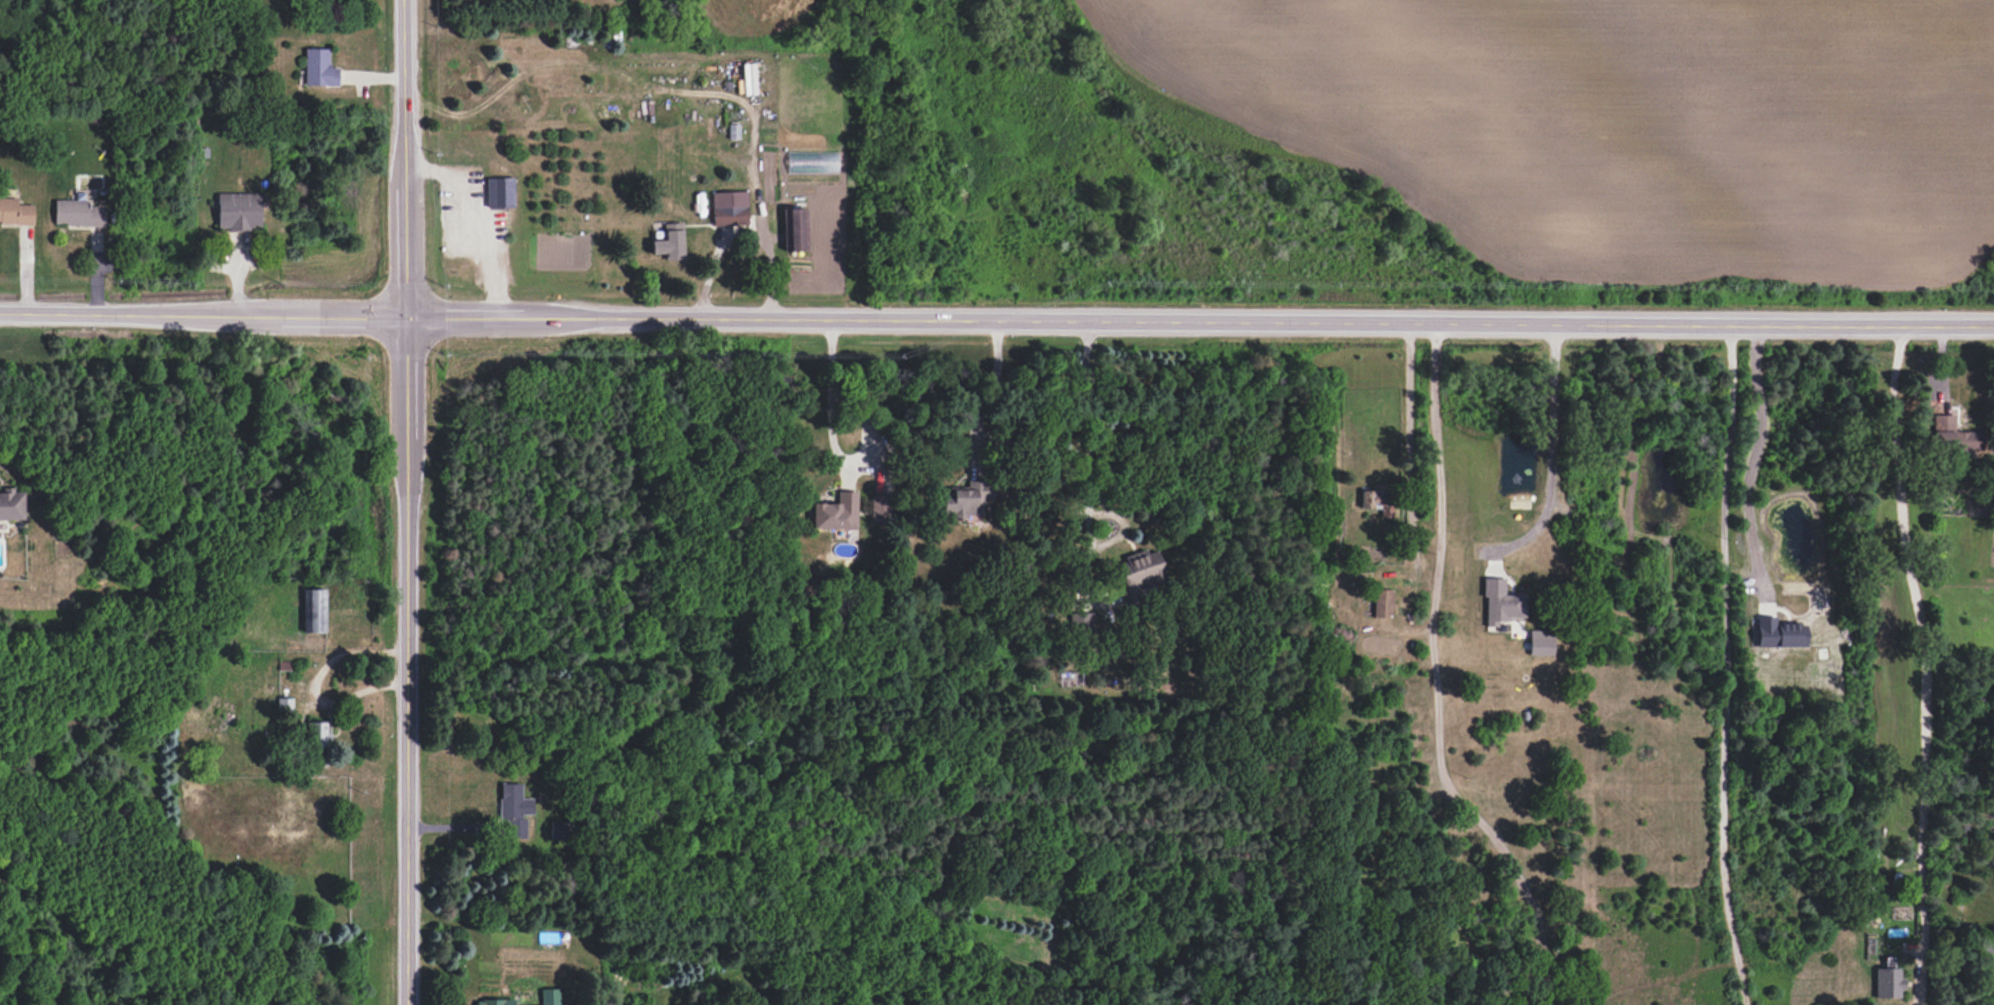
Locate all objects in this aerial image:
building: (319, 68)
building: (733, 131)
building: (499, 192)
building: (729, 208)
building: (15, 211)
building: (238, 211)
building: (78, 213)
building: (794, 229)
road: (740, 233)
building: (669, 242)
road: (996, 323)
road: (986, 395)
road: (1406, 416)
road: (1087, 439)
building: (1967, 440)
road: (833, 452)
road: (1551, 456)
road: (1749, 463)
building: (966, 499)
road: (408, 502)
building: (11, 505)
building: (879, 508)
building: (836, 512)
building: (1139, 573)
building: (1500, 602)
building: (1382, 603)
building: (313, 610)
building: (1080, 622)
building: (1779, 633)
building: (1540, 642)
road: (1924, 661)
road: (1724, 667)
road: (1434, 681)
building: (317, 733)
building: (513, 810)
building: (562, 830)
building: (1888, 982)
road: (1508, 985)
building: (549, 996)
building: (494, 1001)

